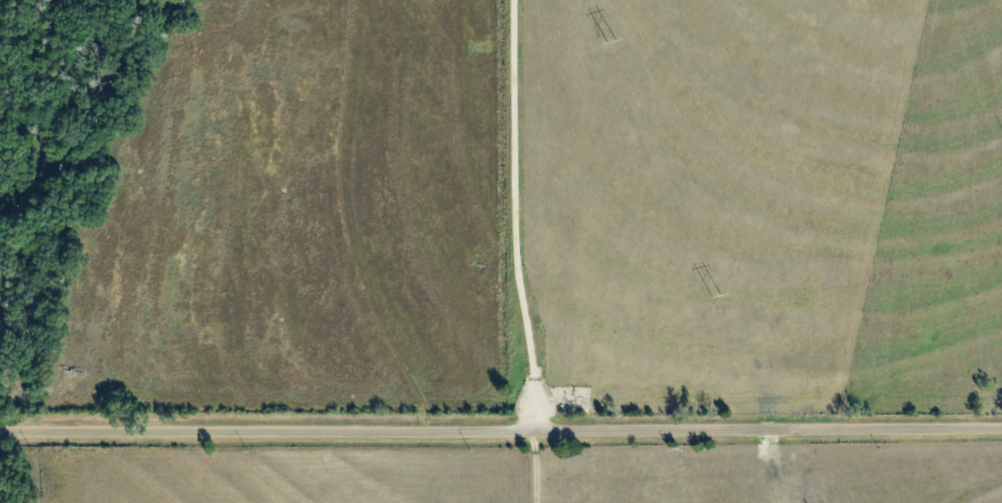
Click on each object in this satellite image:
power tower: (611, 42)
road: (342, 220)
power tower: (715, 299)
road: (501, 425)
road: (529, 464)

